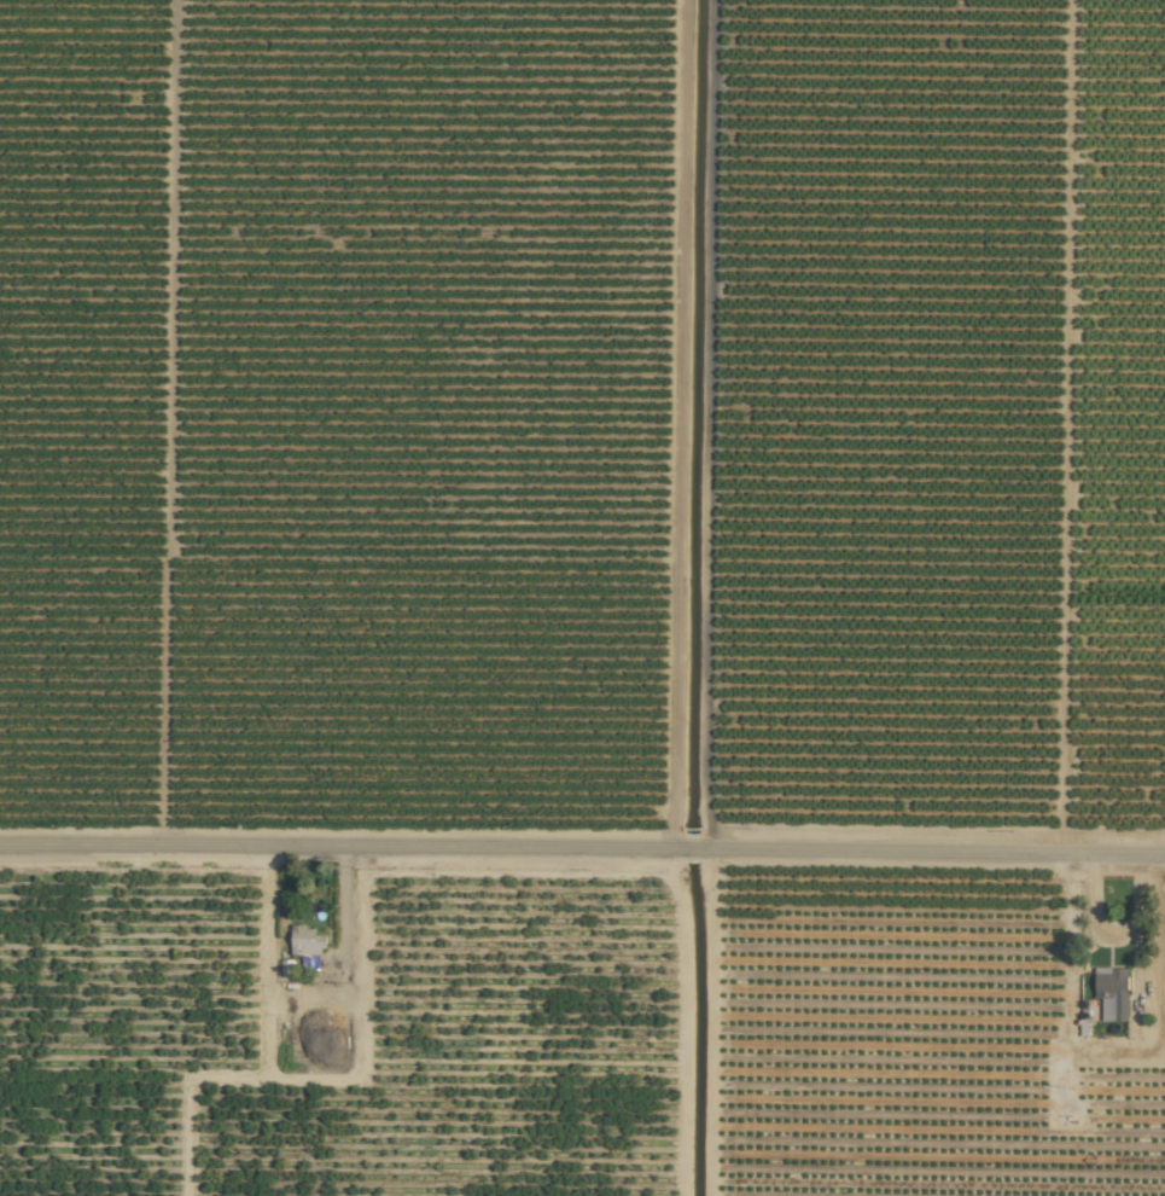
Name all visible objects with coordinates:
road: (582, 848)
building: (305, 940)
building: (1111, 992)
road: (305, 994)

